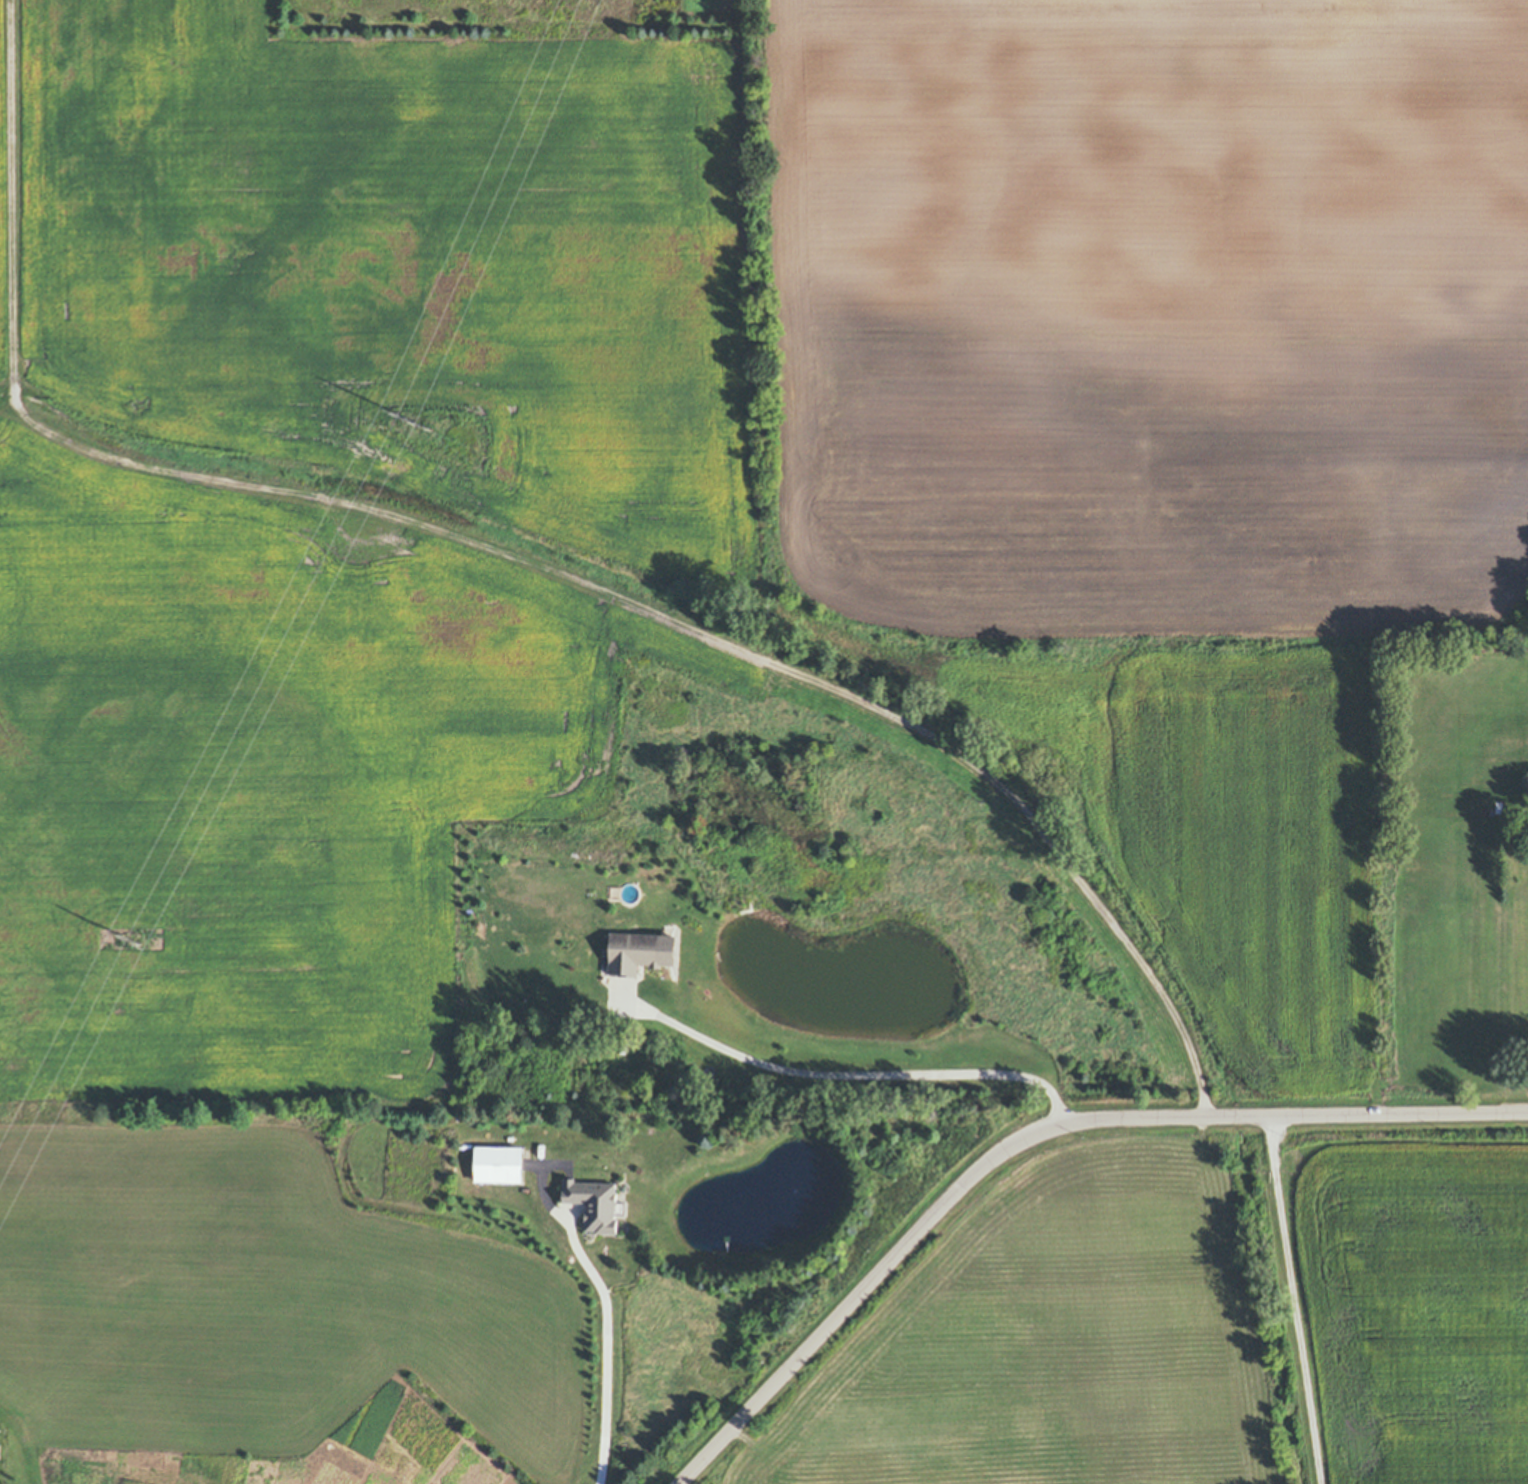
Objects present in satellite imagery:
power tower: (414, 419)
road: (518, 554)
building: (574, 854)
power tower: (133, 940)
building: (639, 952)
road: (854, 1064)
road: (1033, 1135)
building: (498, 1163)
building: (594, 1202)
building: (619, 1207)
building: (723, 1256)
road: (1304, 1300)
road: (602, 1341)

